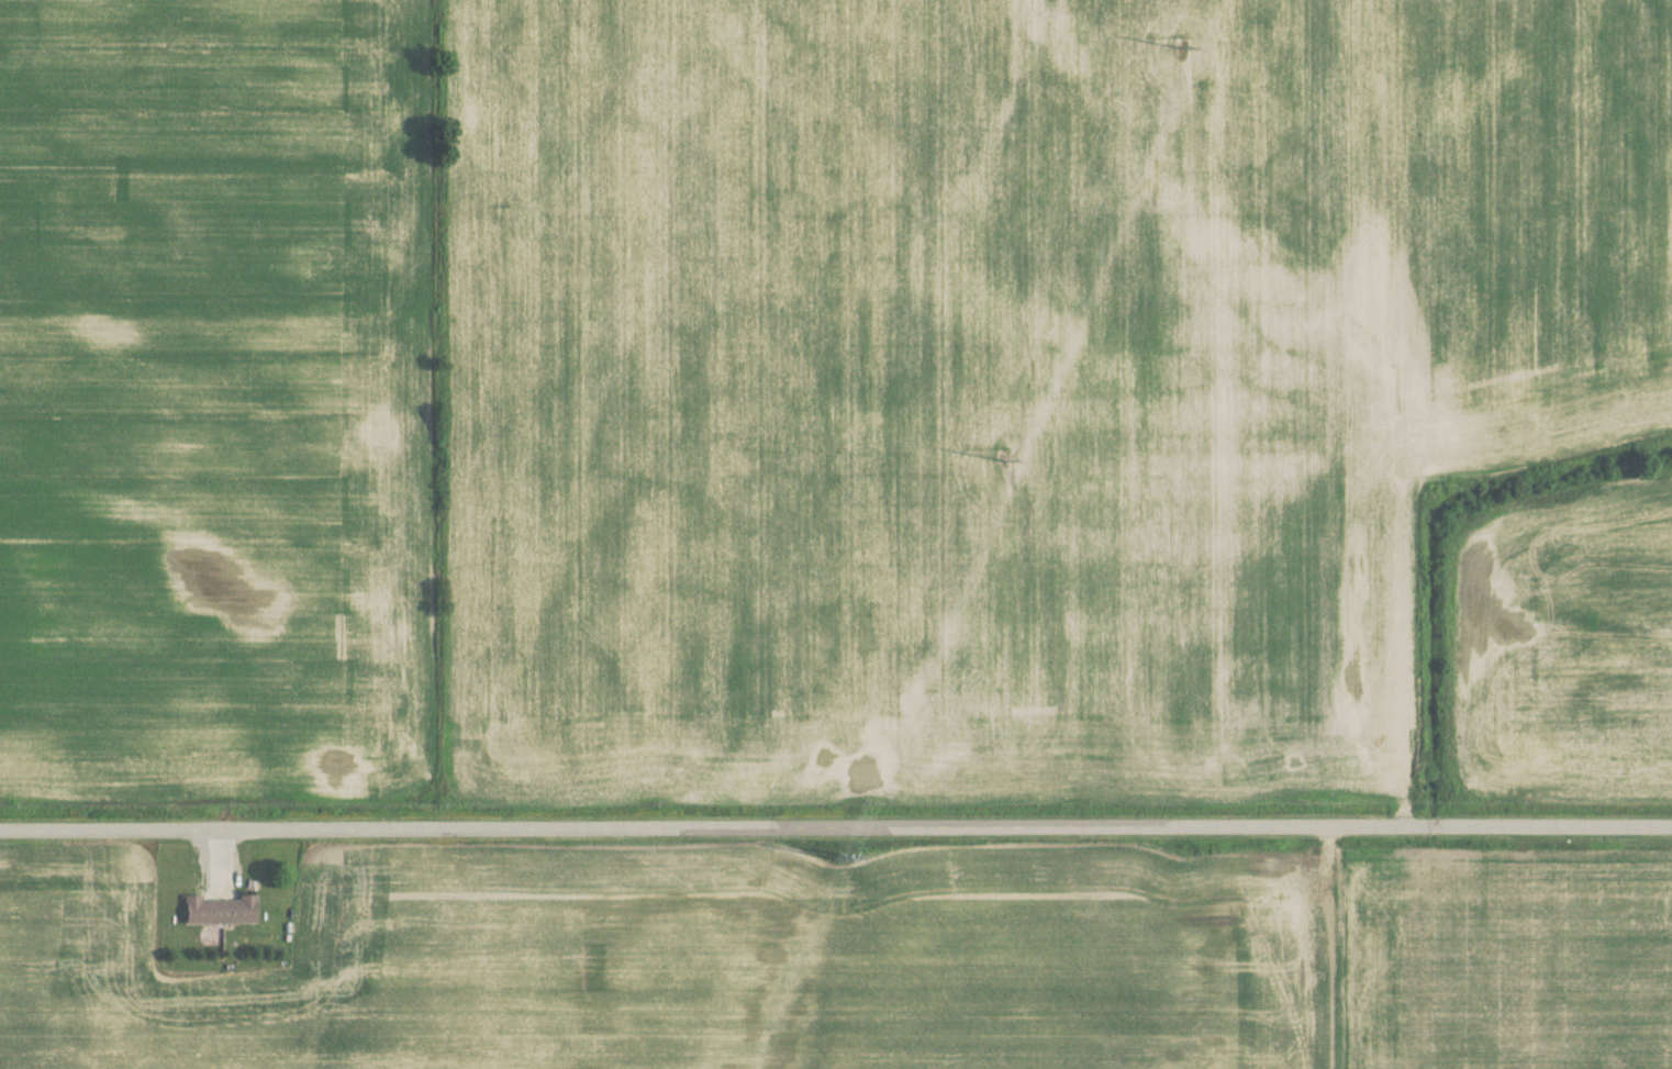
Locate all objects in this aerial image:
road: (835, 831)
building: (219, 909)

